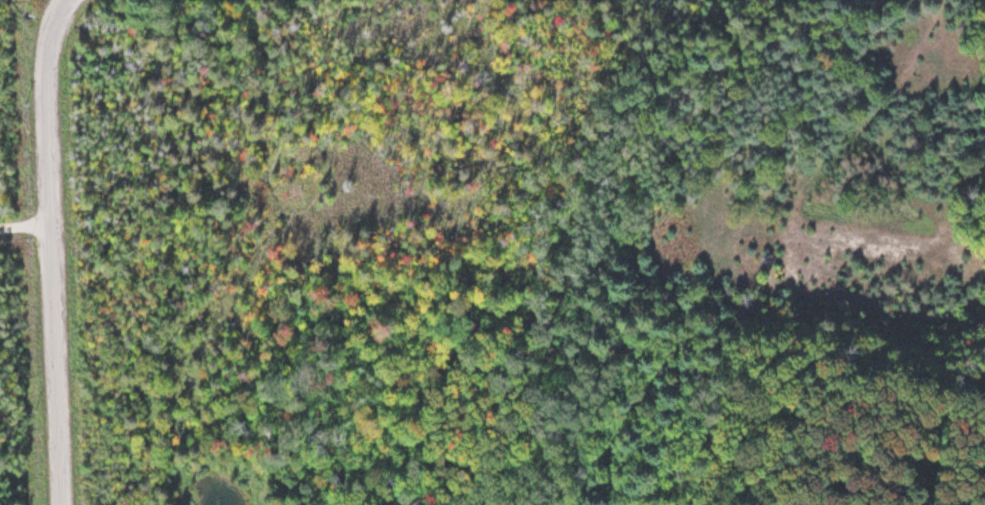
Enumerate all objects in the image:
road: (58, 17)
road: (52, 269)

